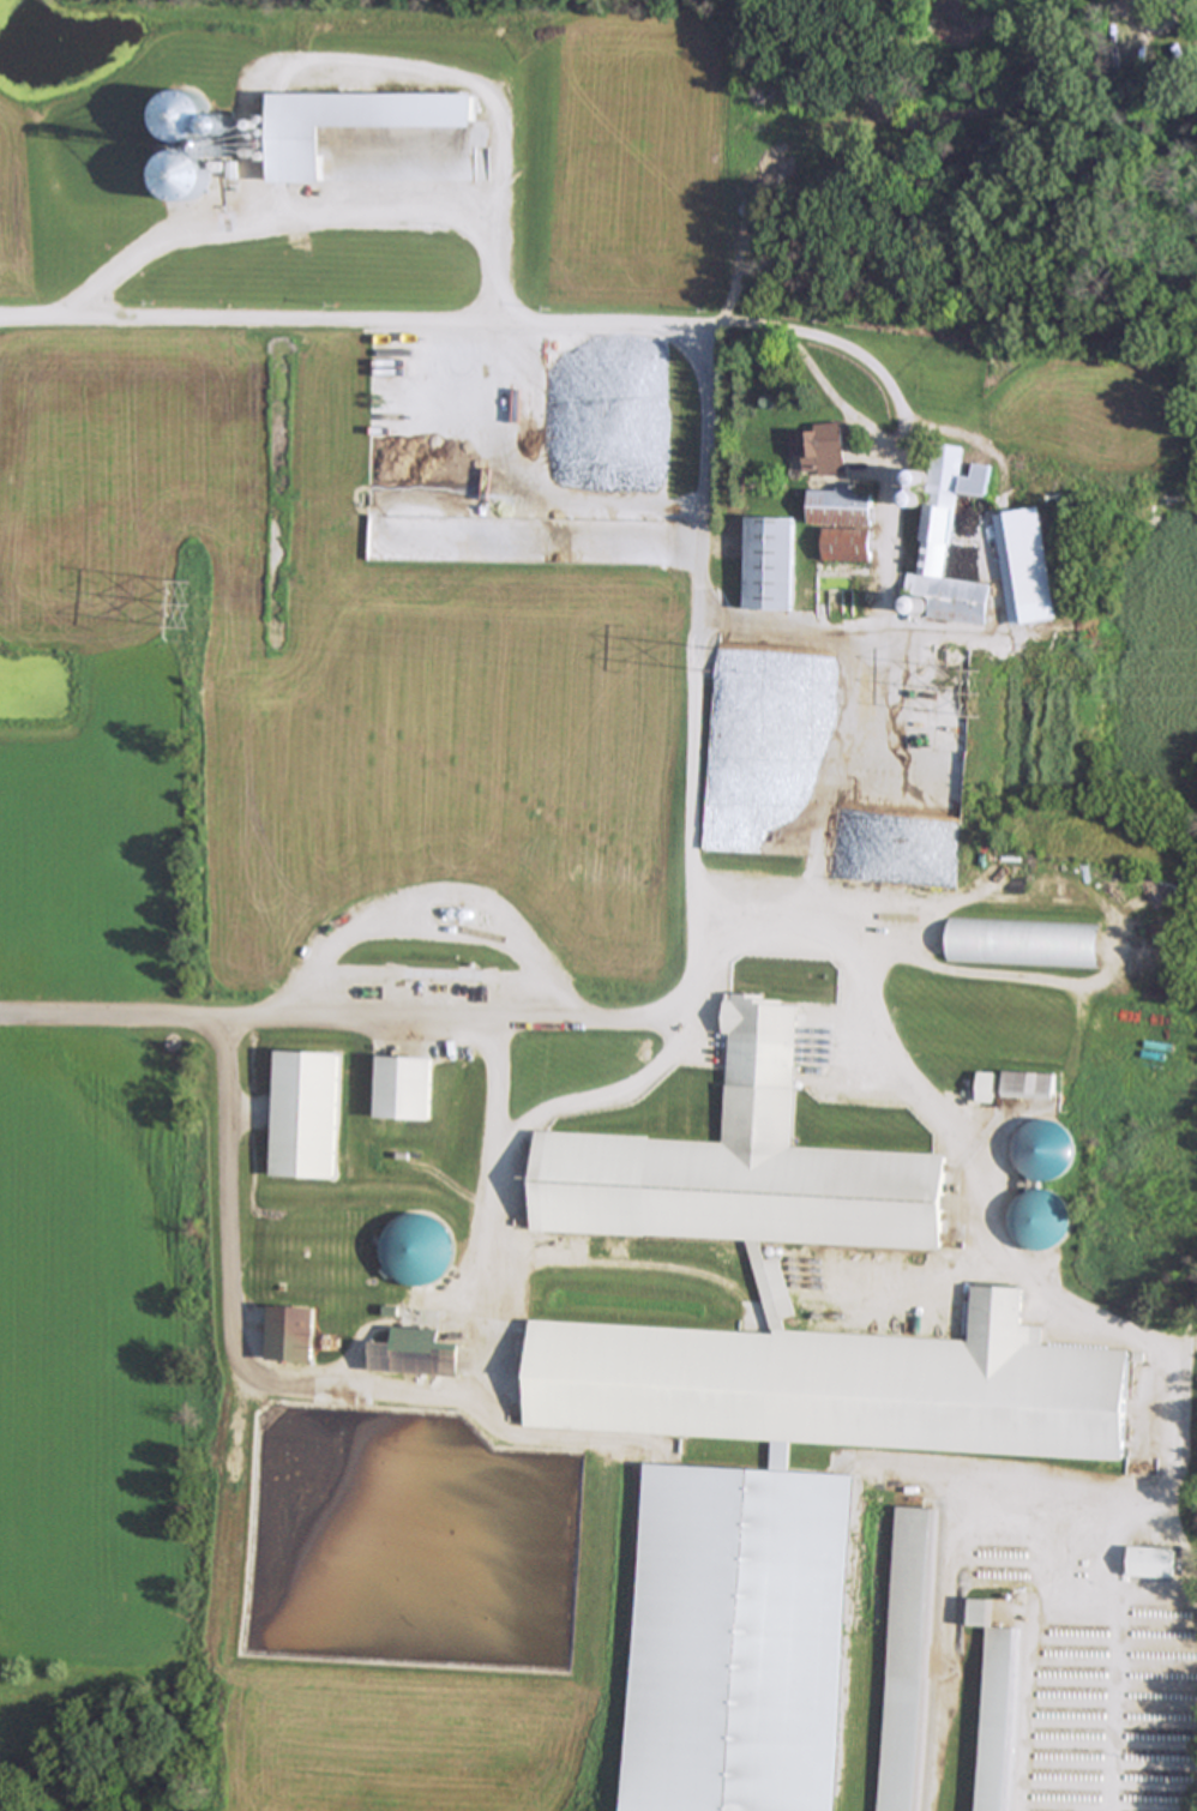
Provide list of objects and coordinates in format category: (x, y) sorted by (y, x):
building: (1003, 149)
road: (836, 398)
road: (975, 438)
building: (820, 447)
road: (900, 468)
building: (842, 522)
building: (945, 540)
building: (769, 564)
building: (1027, 566)
building: (832, 582)
power tower: (187, 607)
road: (698, 673)
power tower: (987, 693)
building: (1023, 943)
building: (1029, 1085)
building: (403, 1087)
building: (986, 1087)
road: (602, 1090)
building: (305, 1113)
building: (1045, 1150)
road: (969, 1161)
building: (1041, 1219)
building: (895, 1245)
building: (409, 1257)
building: (293, 1332)
building: (407, 1350)
road: (359, 1385)
road: (507, 1430)
building: (1150, 1563)
building: (993, 1708)
building: (902, 1744)

